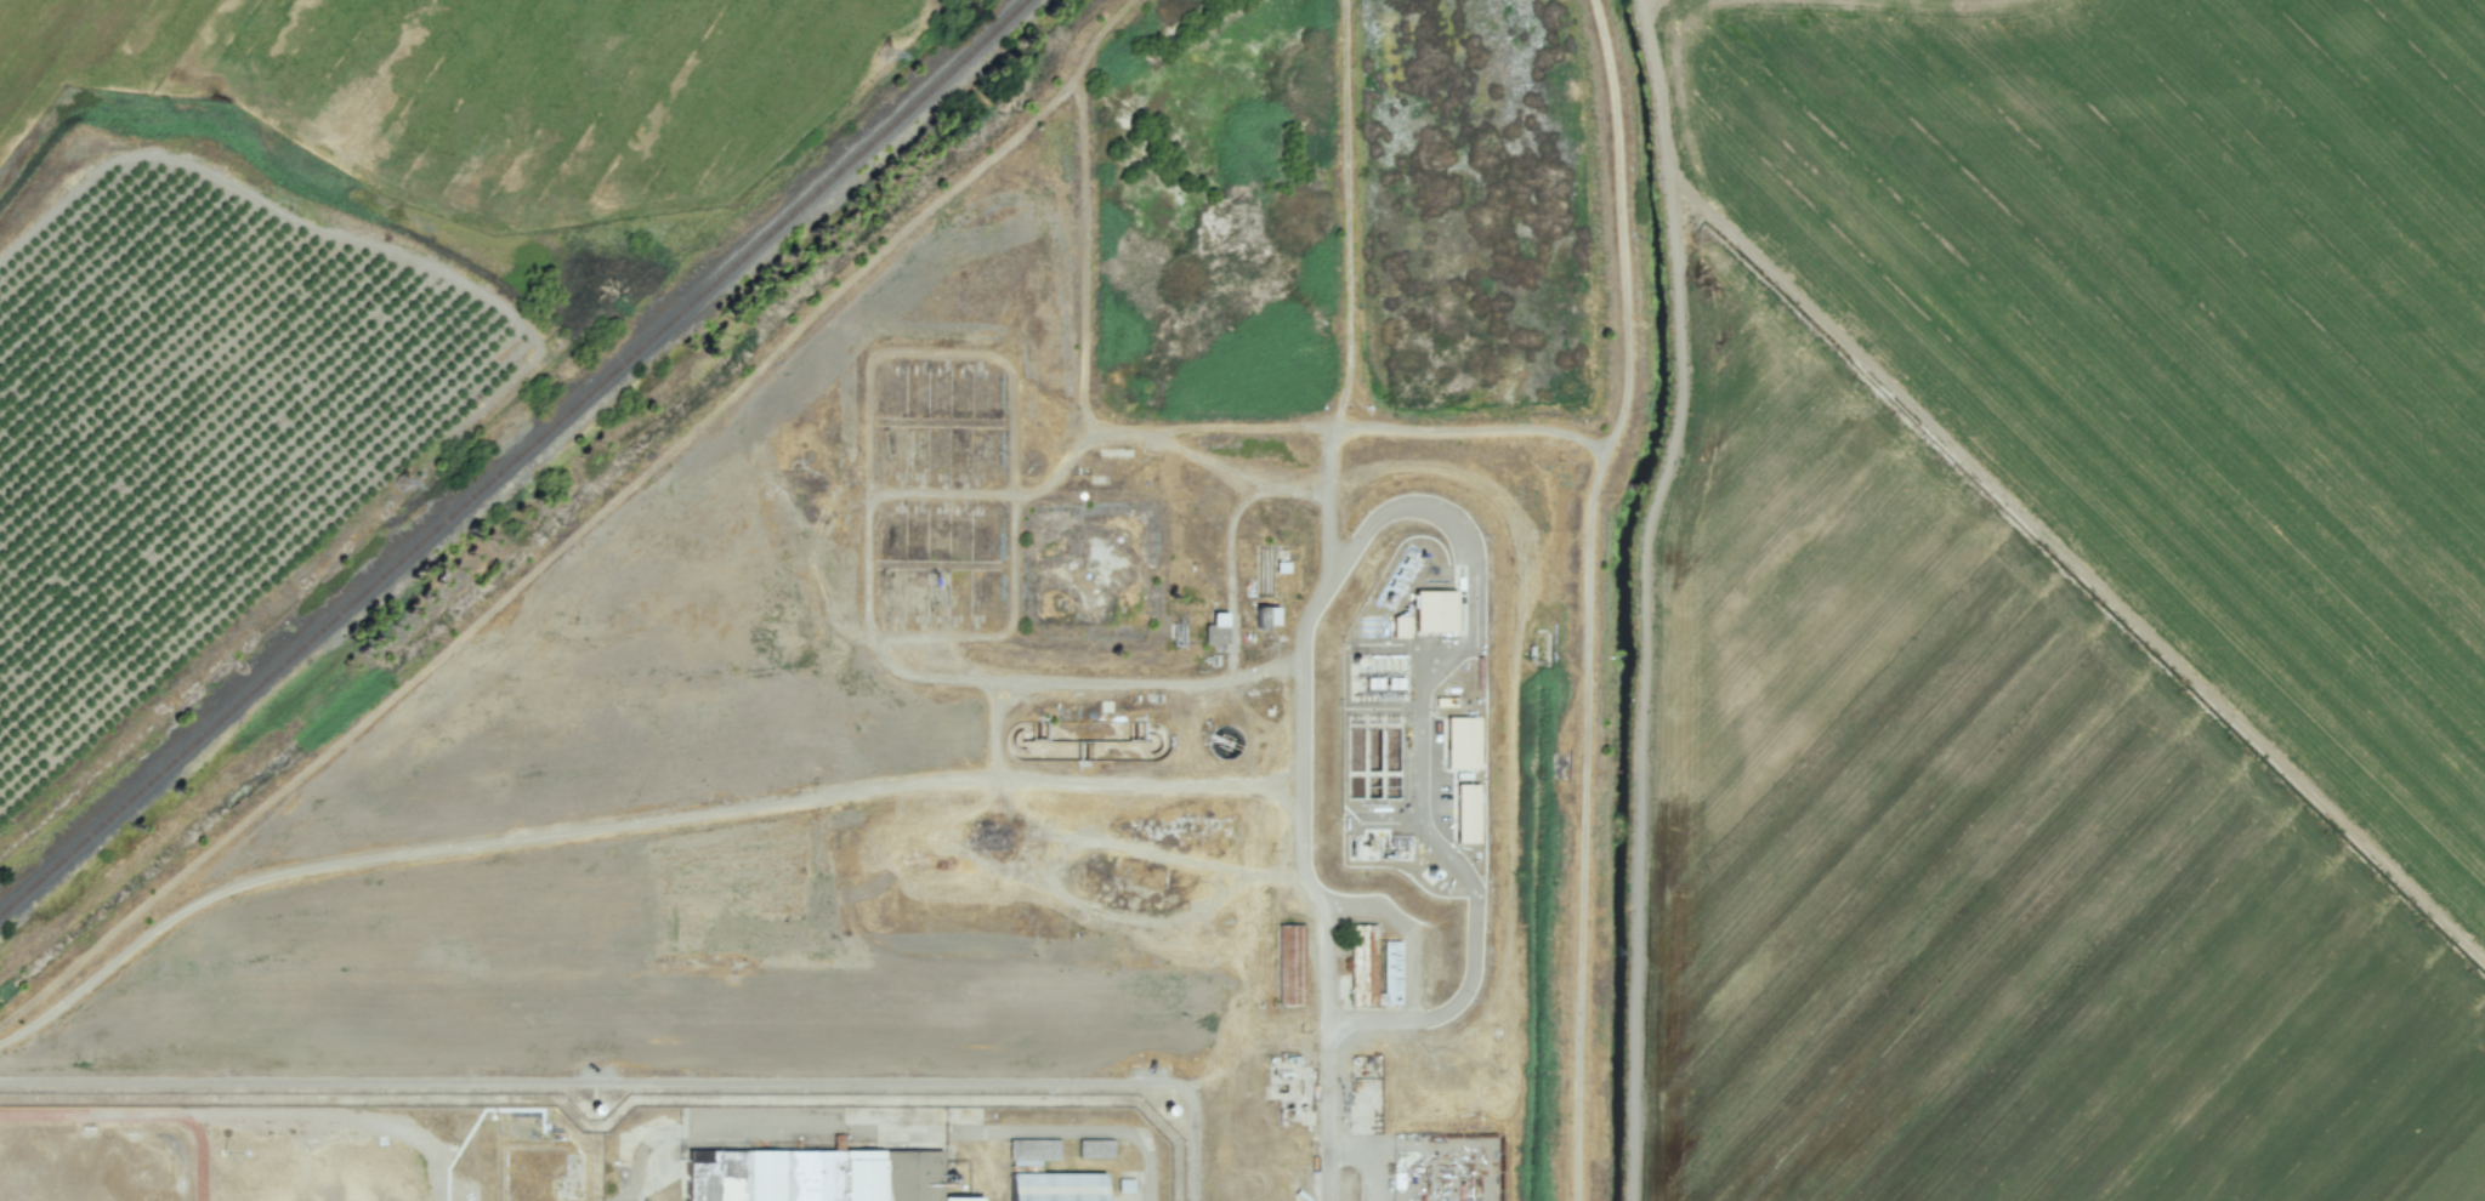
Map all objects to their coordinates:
power tower: (884, 52)
wastewater plant: (1449, 188)
wastewater plant: (1185, 198)
railway: (521, 466)
power tower: (398, 483)
road: (1459, 543)
wastewater plant: (1084, 569)
crop: (1242, 600)
building: (1429, 610)
building: (1267, 614)
building: (1395, 626)
building: (1215, 628)
building: (1457, 741)
building: (1462, 813)
building: (1289, 964)
building: (1372, 968)
road: (649, 1082)
road: (1324, 1111)
building: (1094, 1148)
building: (1032, 1150)
building: (1055, 1186)

